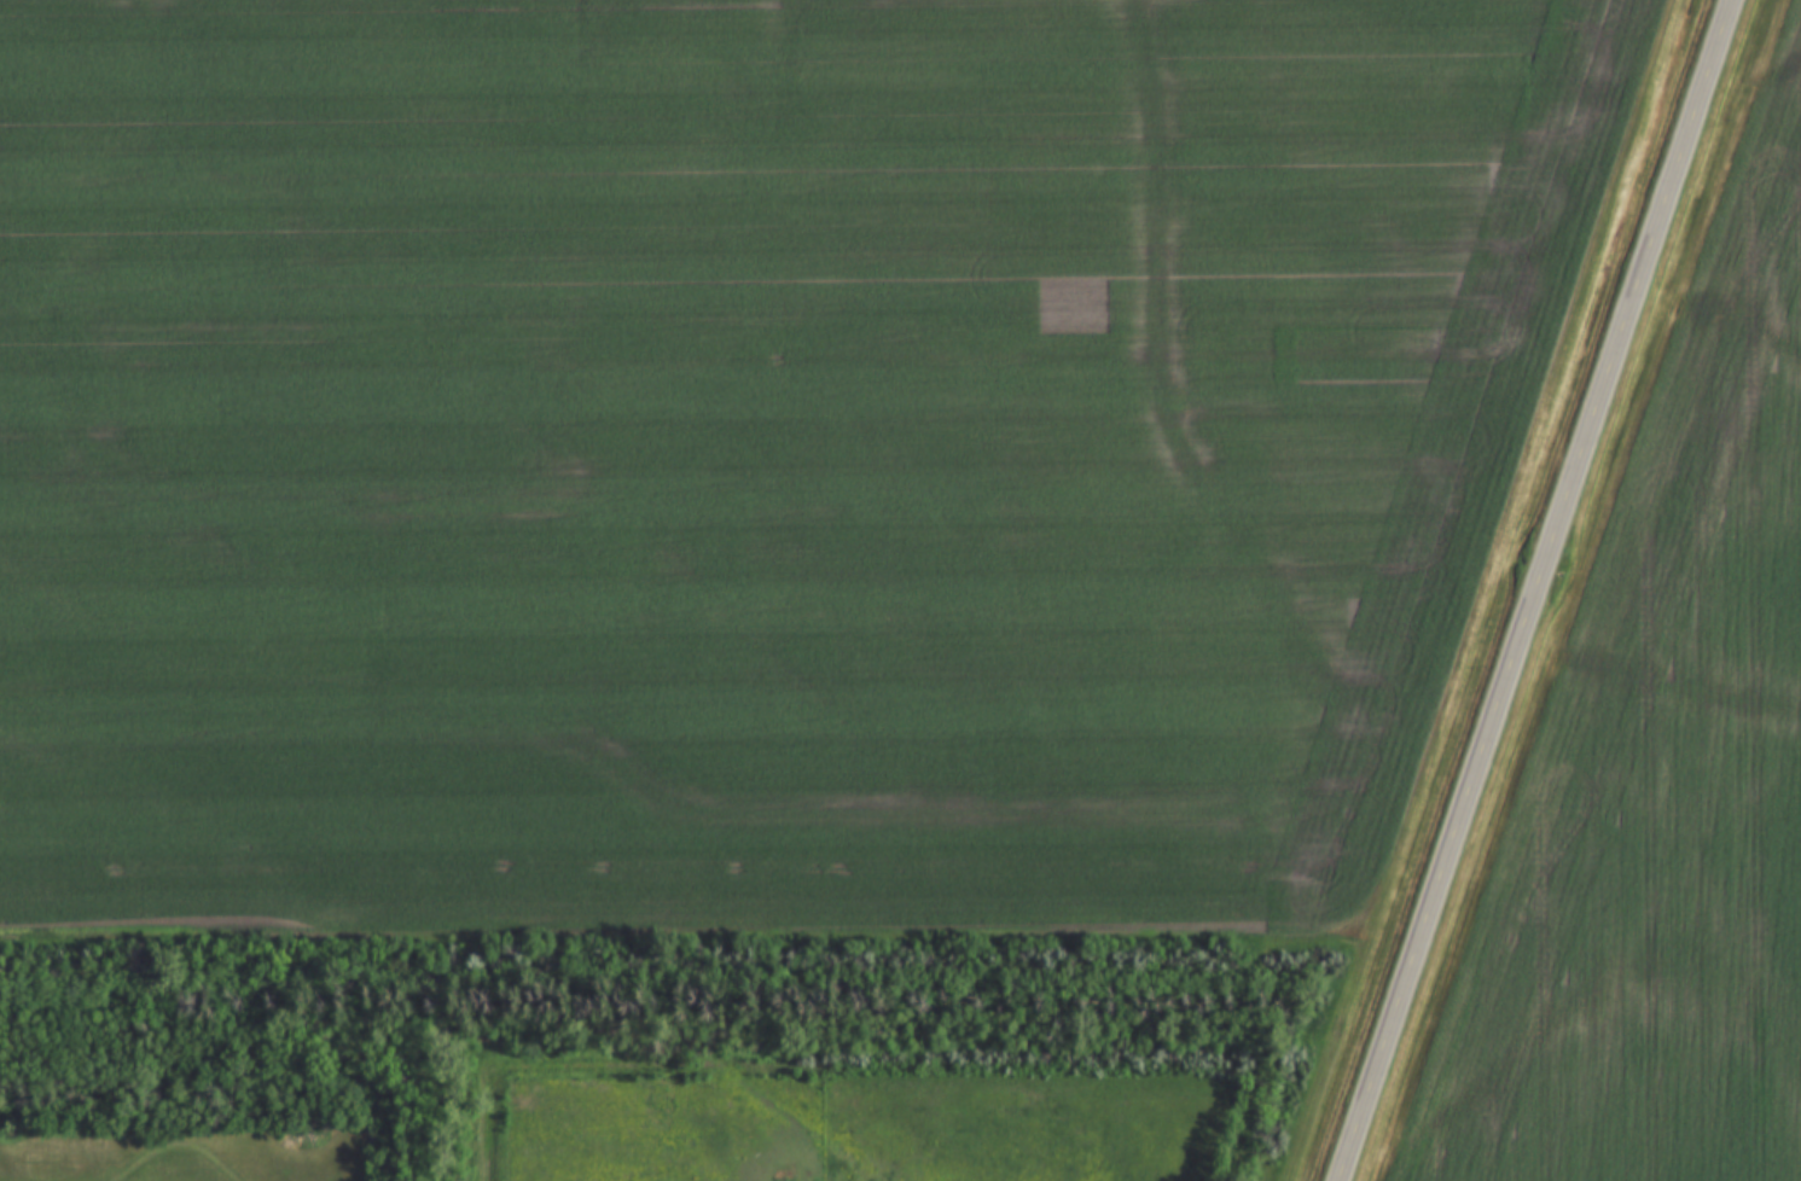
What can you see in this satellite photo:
road: (1532, 590)

